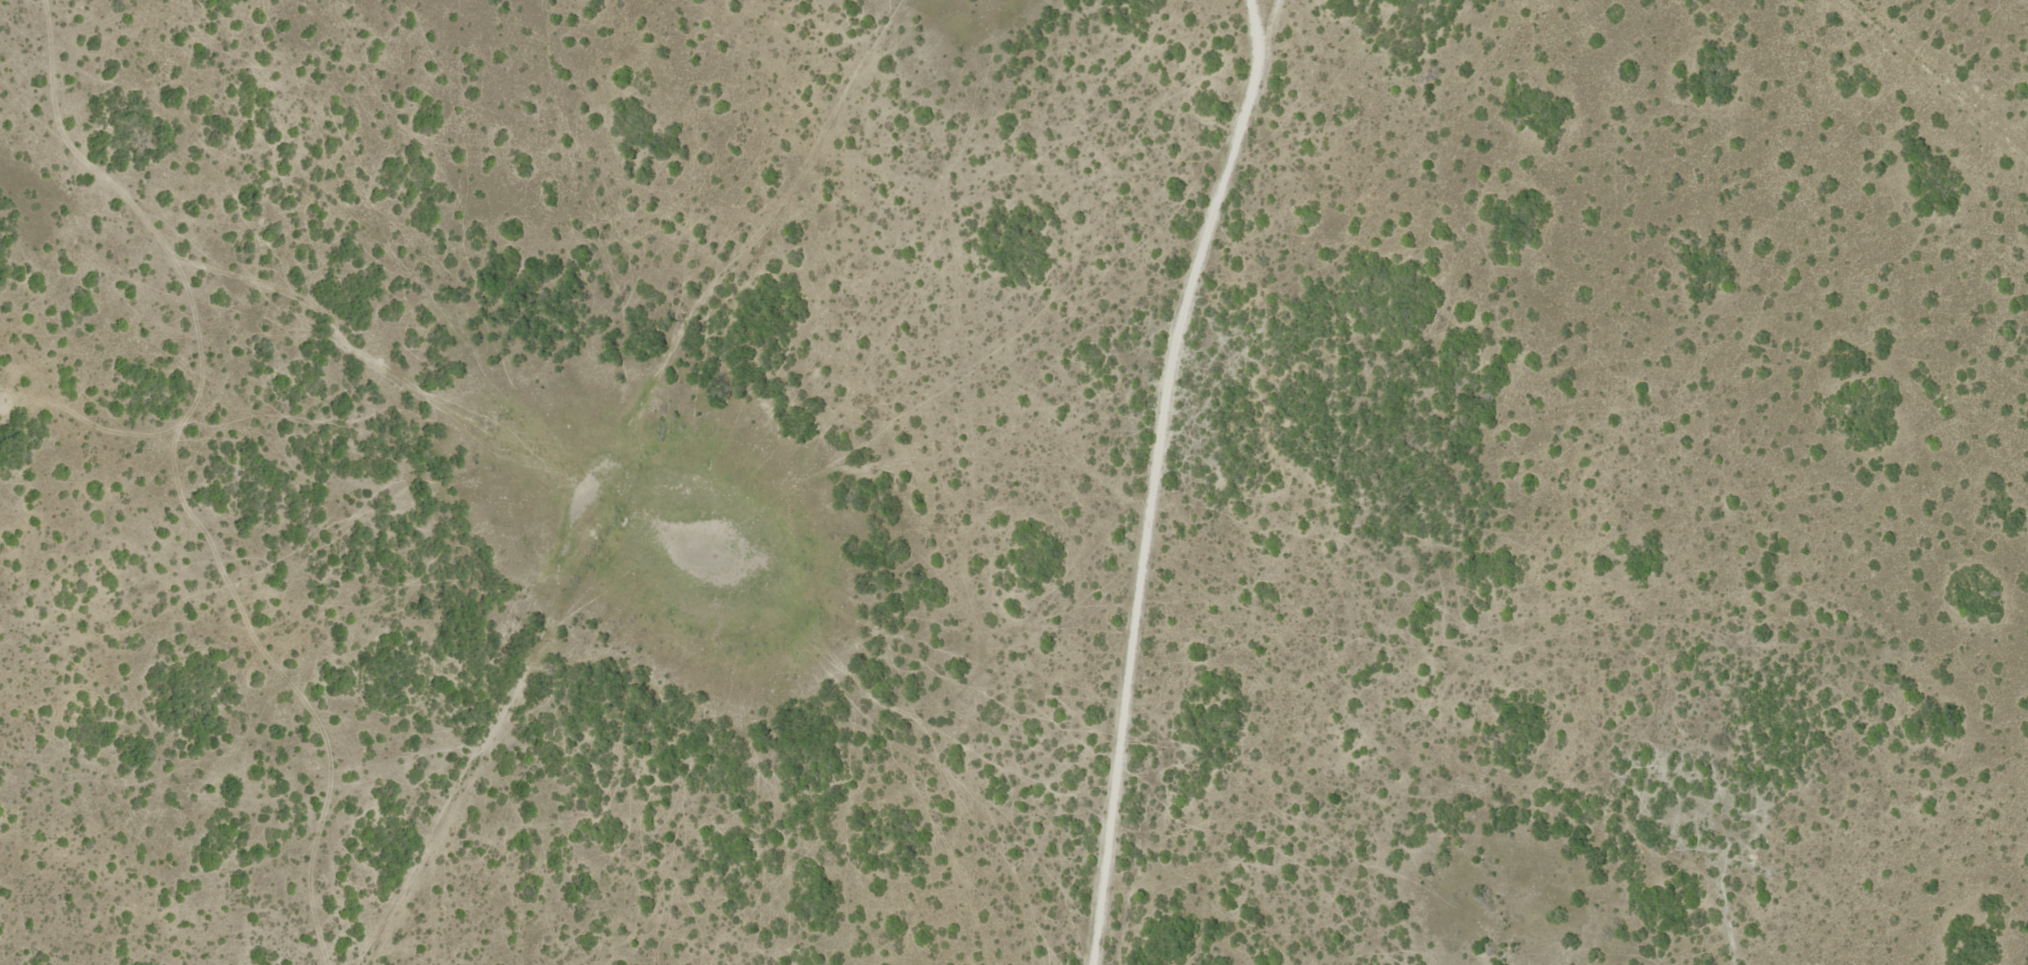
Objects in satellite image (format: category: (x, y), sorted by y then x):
road: (1176, 481)

